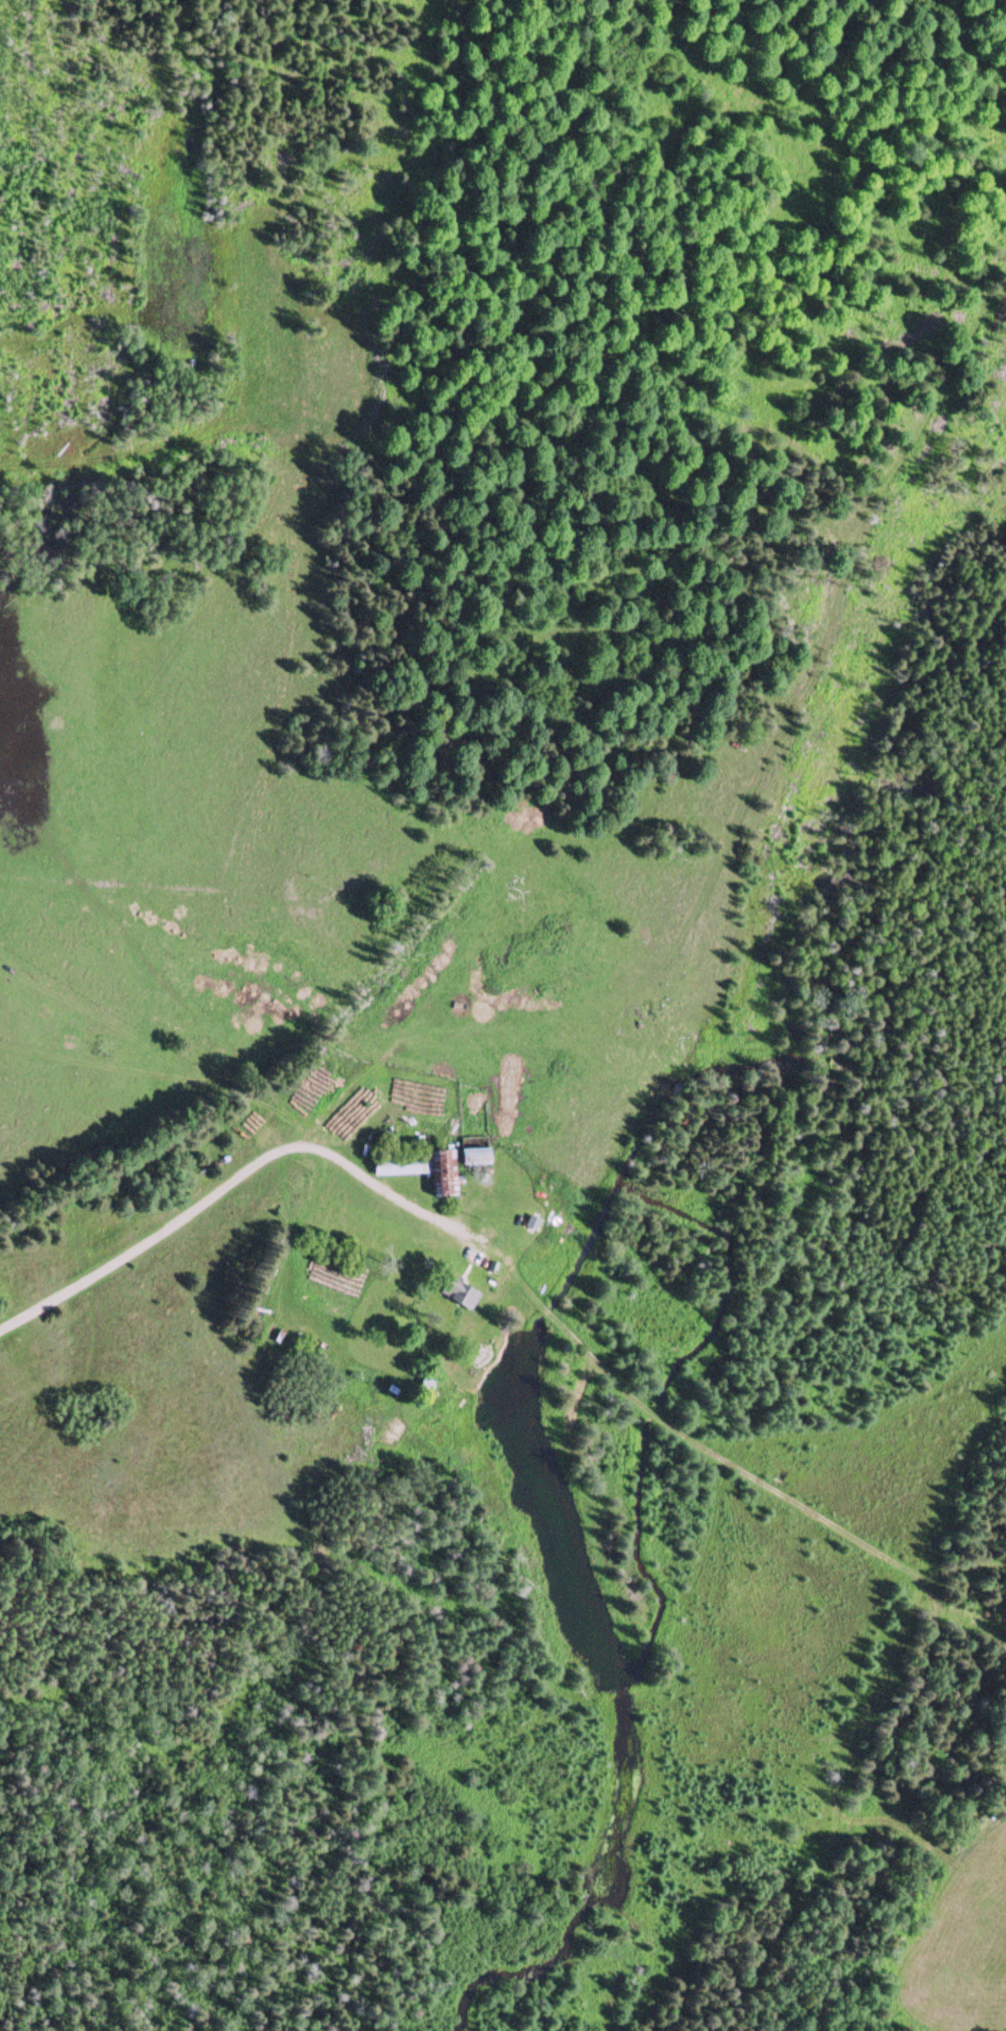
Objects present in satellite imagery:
building: (476, 1152)
building: (425, 1171)
road: (226, 1185)
building: (460, 1294)
road: (720, 1455)

